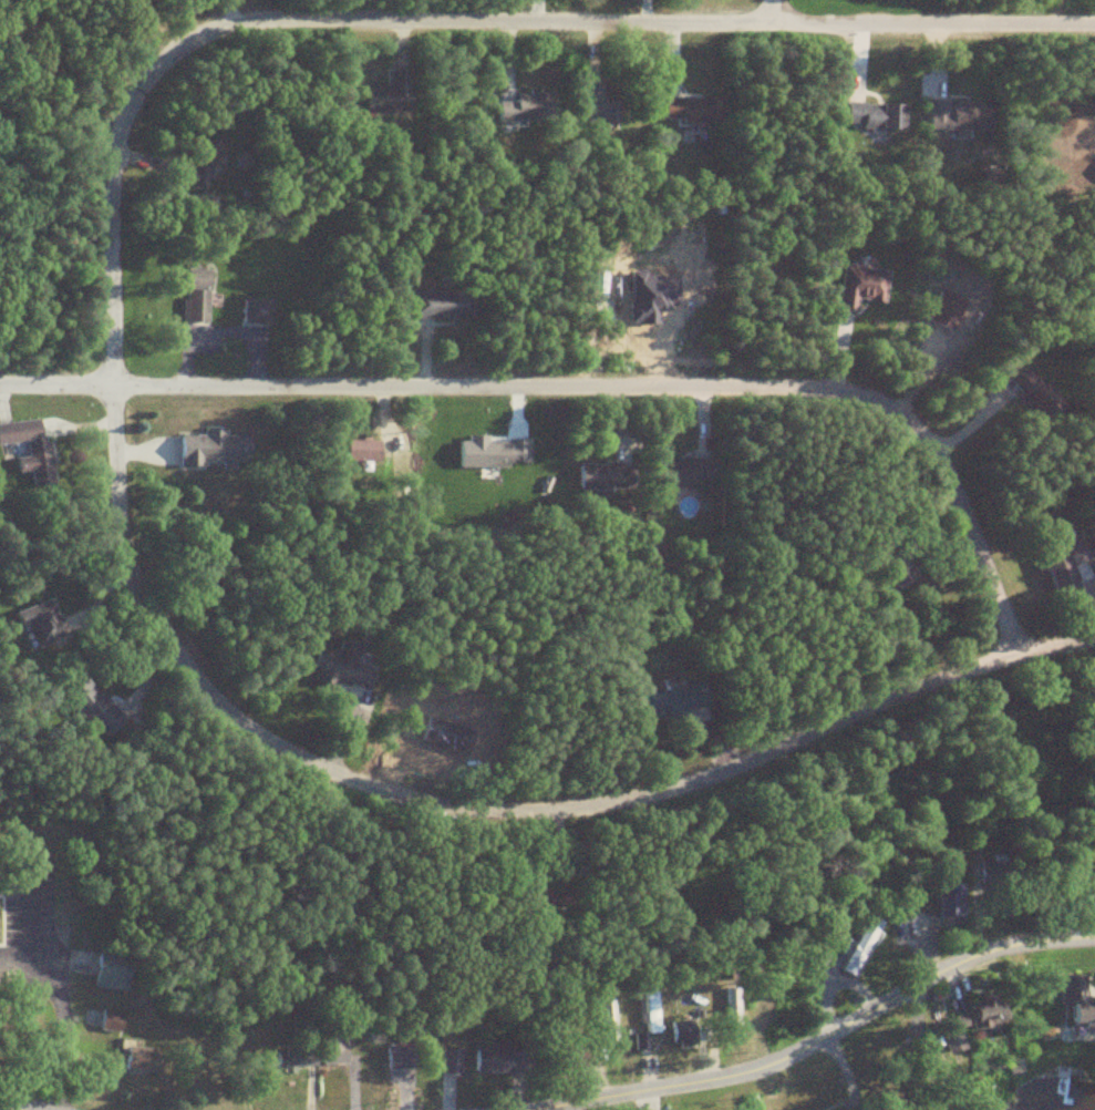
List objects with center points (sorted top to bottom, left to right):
building: (395, 89)
building: (596, 104)
building: (524, 105)
building: (692, 107)
building: (875, 114)
building: (959, 115)
building: (204, 157)
building: (861, 284)
building: (195, 295)
building: (440, 302)
building: (256, 311)
road: (569, 349)
building: (1032, 389)
building: (27, 439)
building: (213, 448)
building: (360, 450)
building: (686, 471)
building: (609, 476)
building: (1067, 558)
building: (900, 564)
building: (41, 623)
building: (352, 678)
building: (676, 700)
building: (92, 706)
road: (302, 742)
building: (951, 905)
building: (850, 960)
building: (113, 972)
building: (1078, 1000)
building: (992, 1011)
building: (651, 1015)
road: (60, 1019)
building: (609, 1020)
building: (964, 1024)
building: (685, 1032)
building: (245, 1044)
road: (822, 1045)
building: (137, 1057)
building: (399, 1057)
building: (297, 1059)
building: (452, 1060)
building: (503, 1060)
road: (11, 1108)

